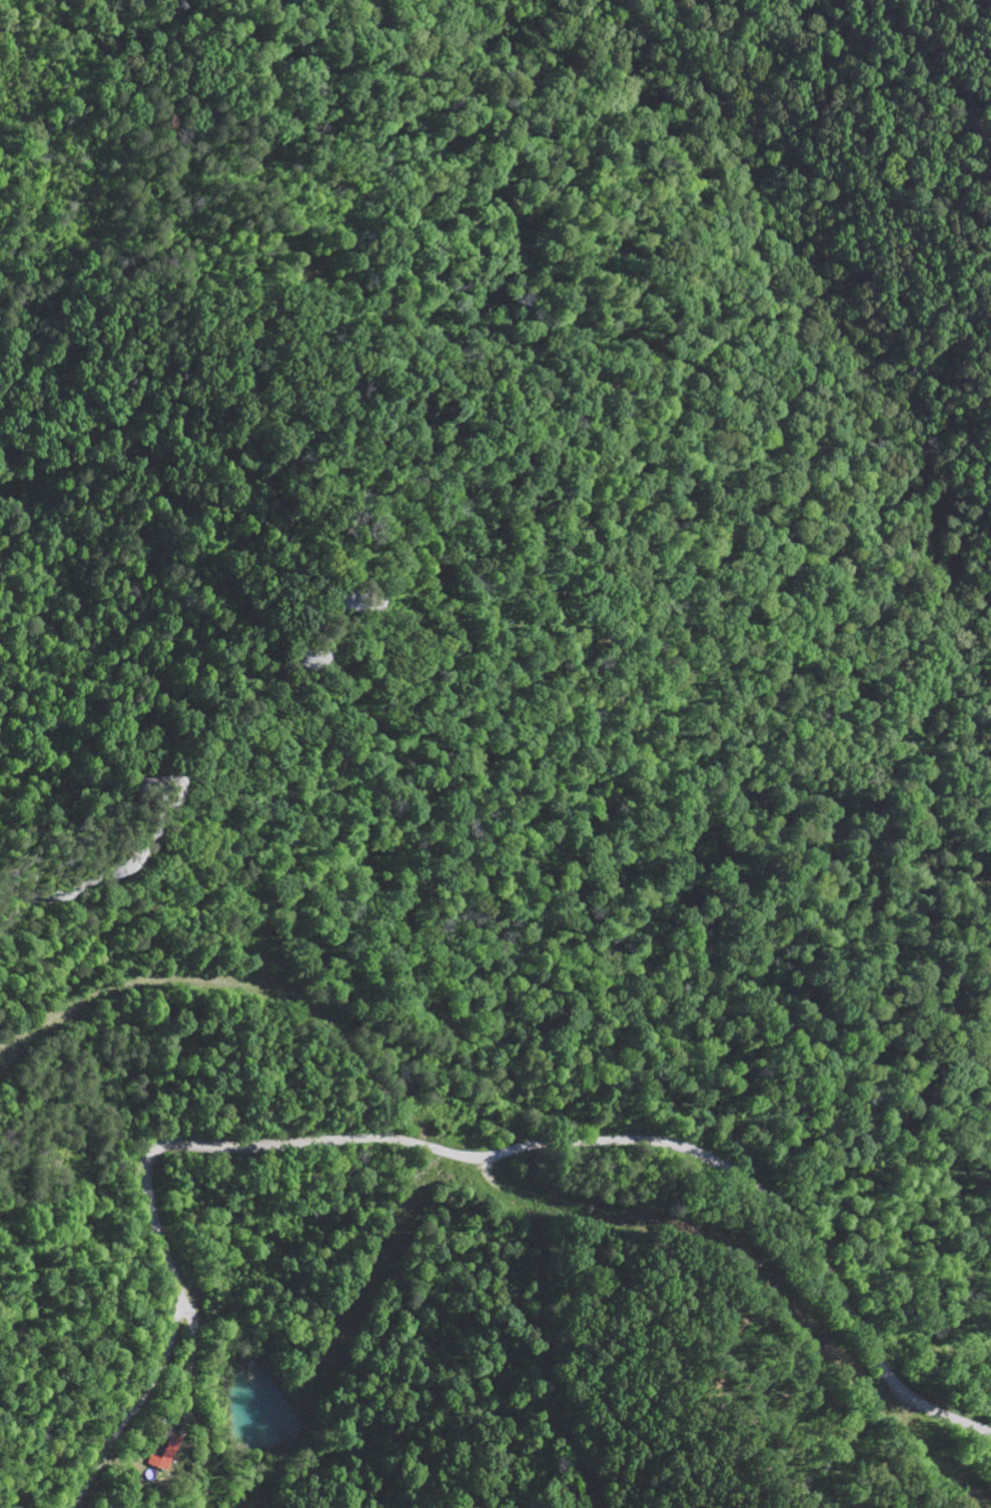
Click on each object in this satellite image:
road: (439, 1153)

